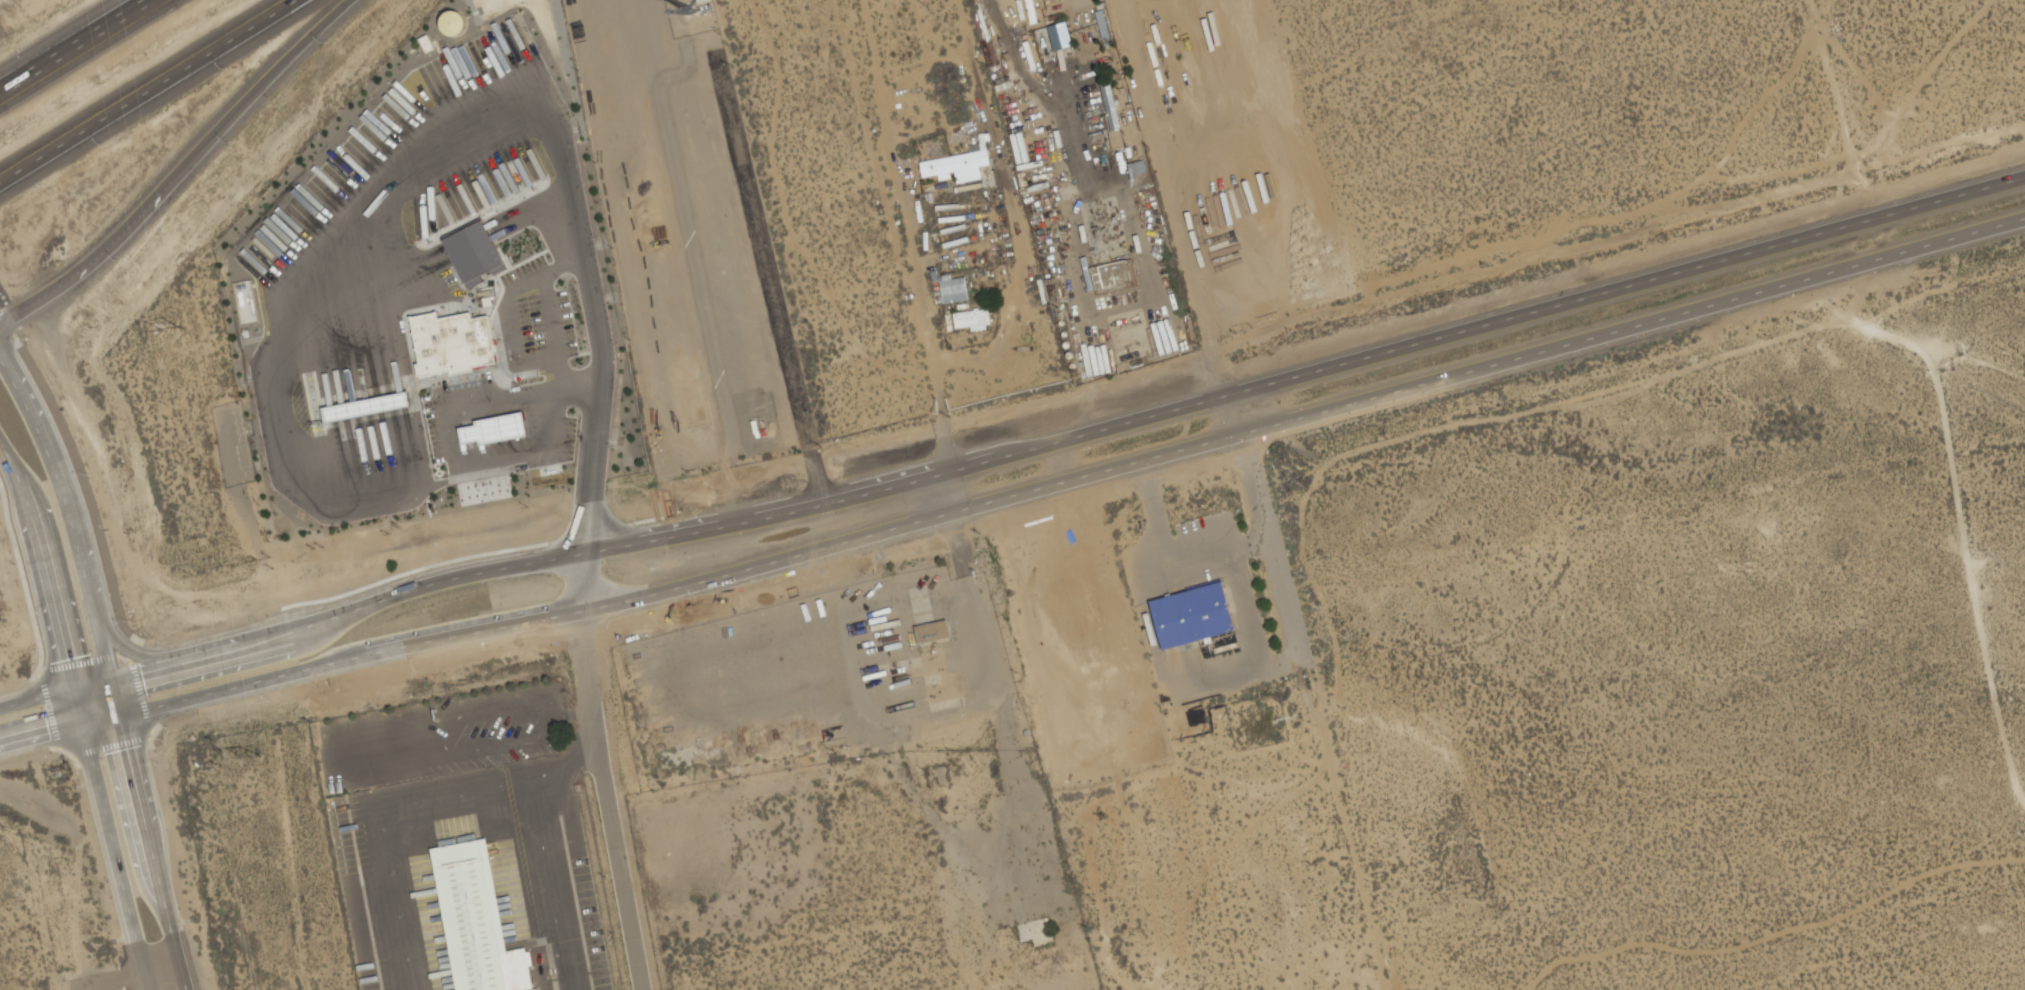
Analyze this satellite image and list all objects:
building: (1108, 17)
building: (448, 22)
storage tank: (448, 22)
building: (1066, 28)
street lamp: (326, 43)
road: (72, 44)
street lamp: (23, 49)
street lamp: (226, 69)
road: (261, 86)
road: (149, 91)
road: (1036, 93)
building: (1114, 99)
street lamp: (231, 142)
street lamp: (104, 144)
building: (956, 164)
road: (1182, 198)
building: (470, 252)
road: (97, 257)
street lamp: (122, 260)
building: (954, 290)
road: (1013, 295)
road: (552, 310)
road: (926, 319)
building: (973, 321)
road: (2, 322)
road: (7, 324)
power tower: (173, 331)
street lamp: (23, 336)
building: (450, 348)
road: (561, 364)
road: (584, 382)
building: (364, 400)
building: (365, 408)
gas station: (365, 408)
building: (783, 419)
building: (492, 429)
gas station: (492, 429)
road: (1053, 444)
road: (593, 466)
street lamp: (89, 474)
road: (1057, 484)
road: (60, 485)
road: (951, 492)
street lamp: (2, 500)
road: (592, 533)
road: (45, 563)
road: (1283, 581)
road: (24, 584)
building: (1197, 615)
street lamp: (258, 619)
street lamp: (130, 620)
building: (930, 622)
road: (179, 636)
street lamp: (38, 651)
road: (103, 653)
road: (137, 655)
road: (87, 661)
road: (142, 690)
building: (947, 690)
street lamp: (267, 697)
road: (115, 699)
road: (38, 700)
road: (80, 707)
road: (49, 710)
road: (42, 734)
road: (151, 735)
road: (111, 747)
road: (67, 753)
power tower: (254, 754)
street lamp: (161, 763)
road: (598, 773)
street lamp: (83, 786)
road: (154, 852)
road: (117, 857)
building: (473, 916)

